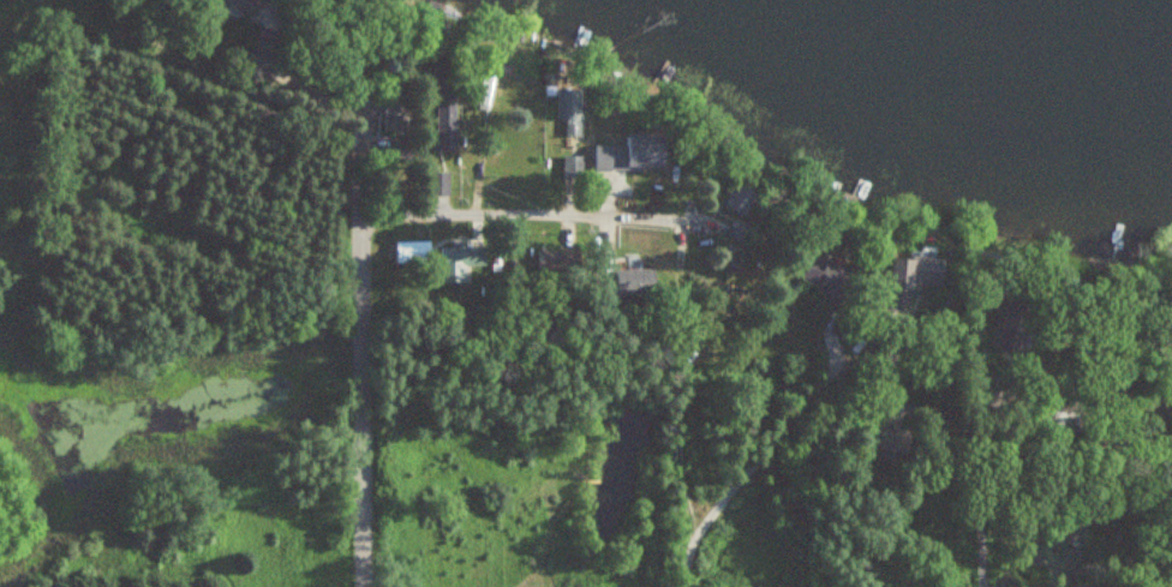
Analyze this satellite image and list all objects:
building: (247, 4)
building: (570, 108)
building: (396, 112)
building: (446, 124)
building: (634, 152)
building: (566, 166)
building: (741, 197)
road: (522, 211)
building: (411, 252)
building: (566, 258)
building: (458, 262)
building: (832, 276)
building: (634, 281)
building: (916, 281)
road: (269, 307)
building: (1019, 319)
road: (807, 348)
road: (364, 401)
road: (680, 402)
building: (901, 442)
road: (982, 466)

